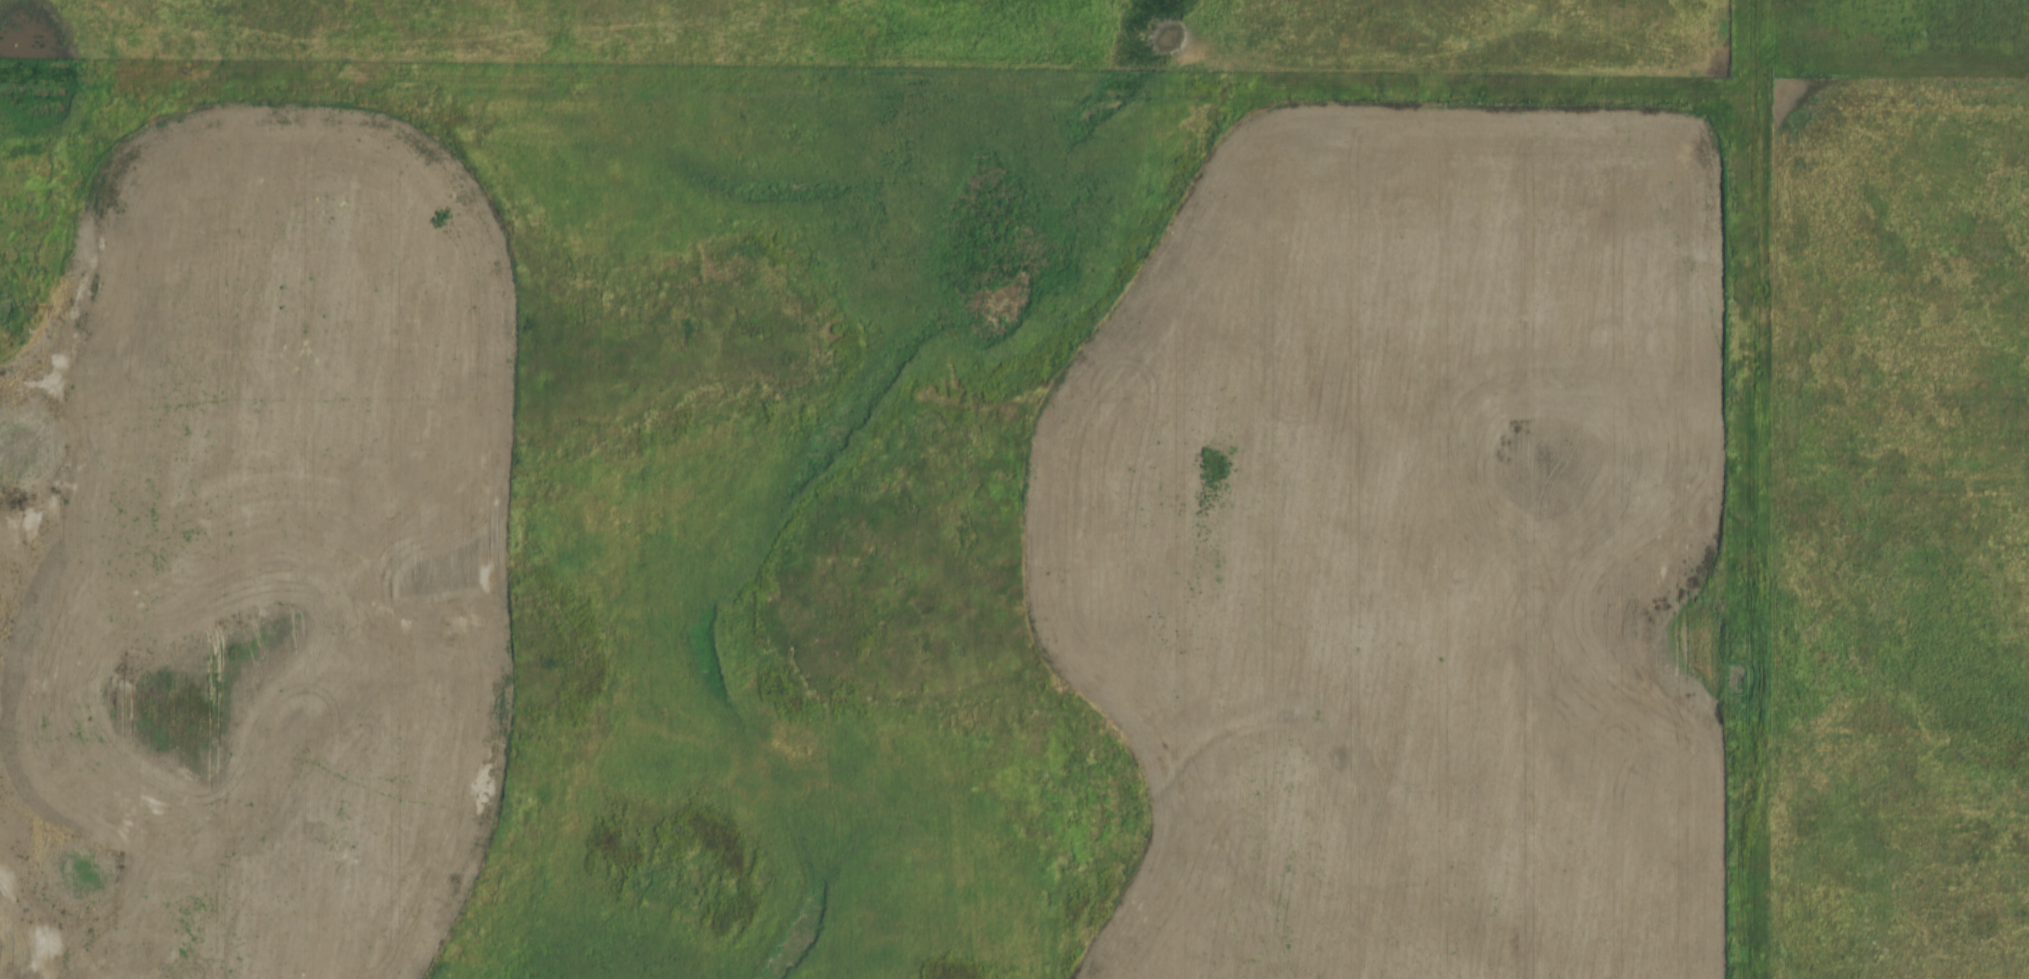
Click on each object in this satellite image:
road: (1869, 96)
road: (1751, 487)

